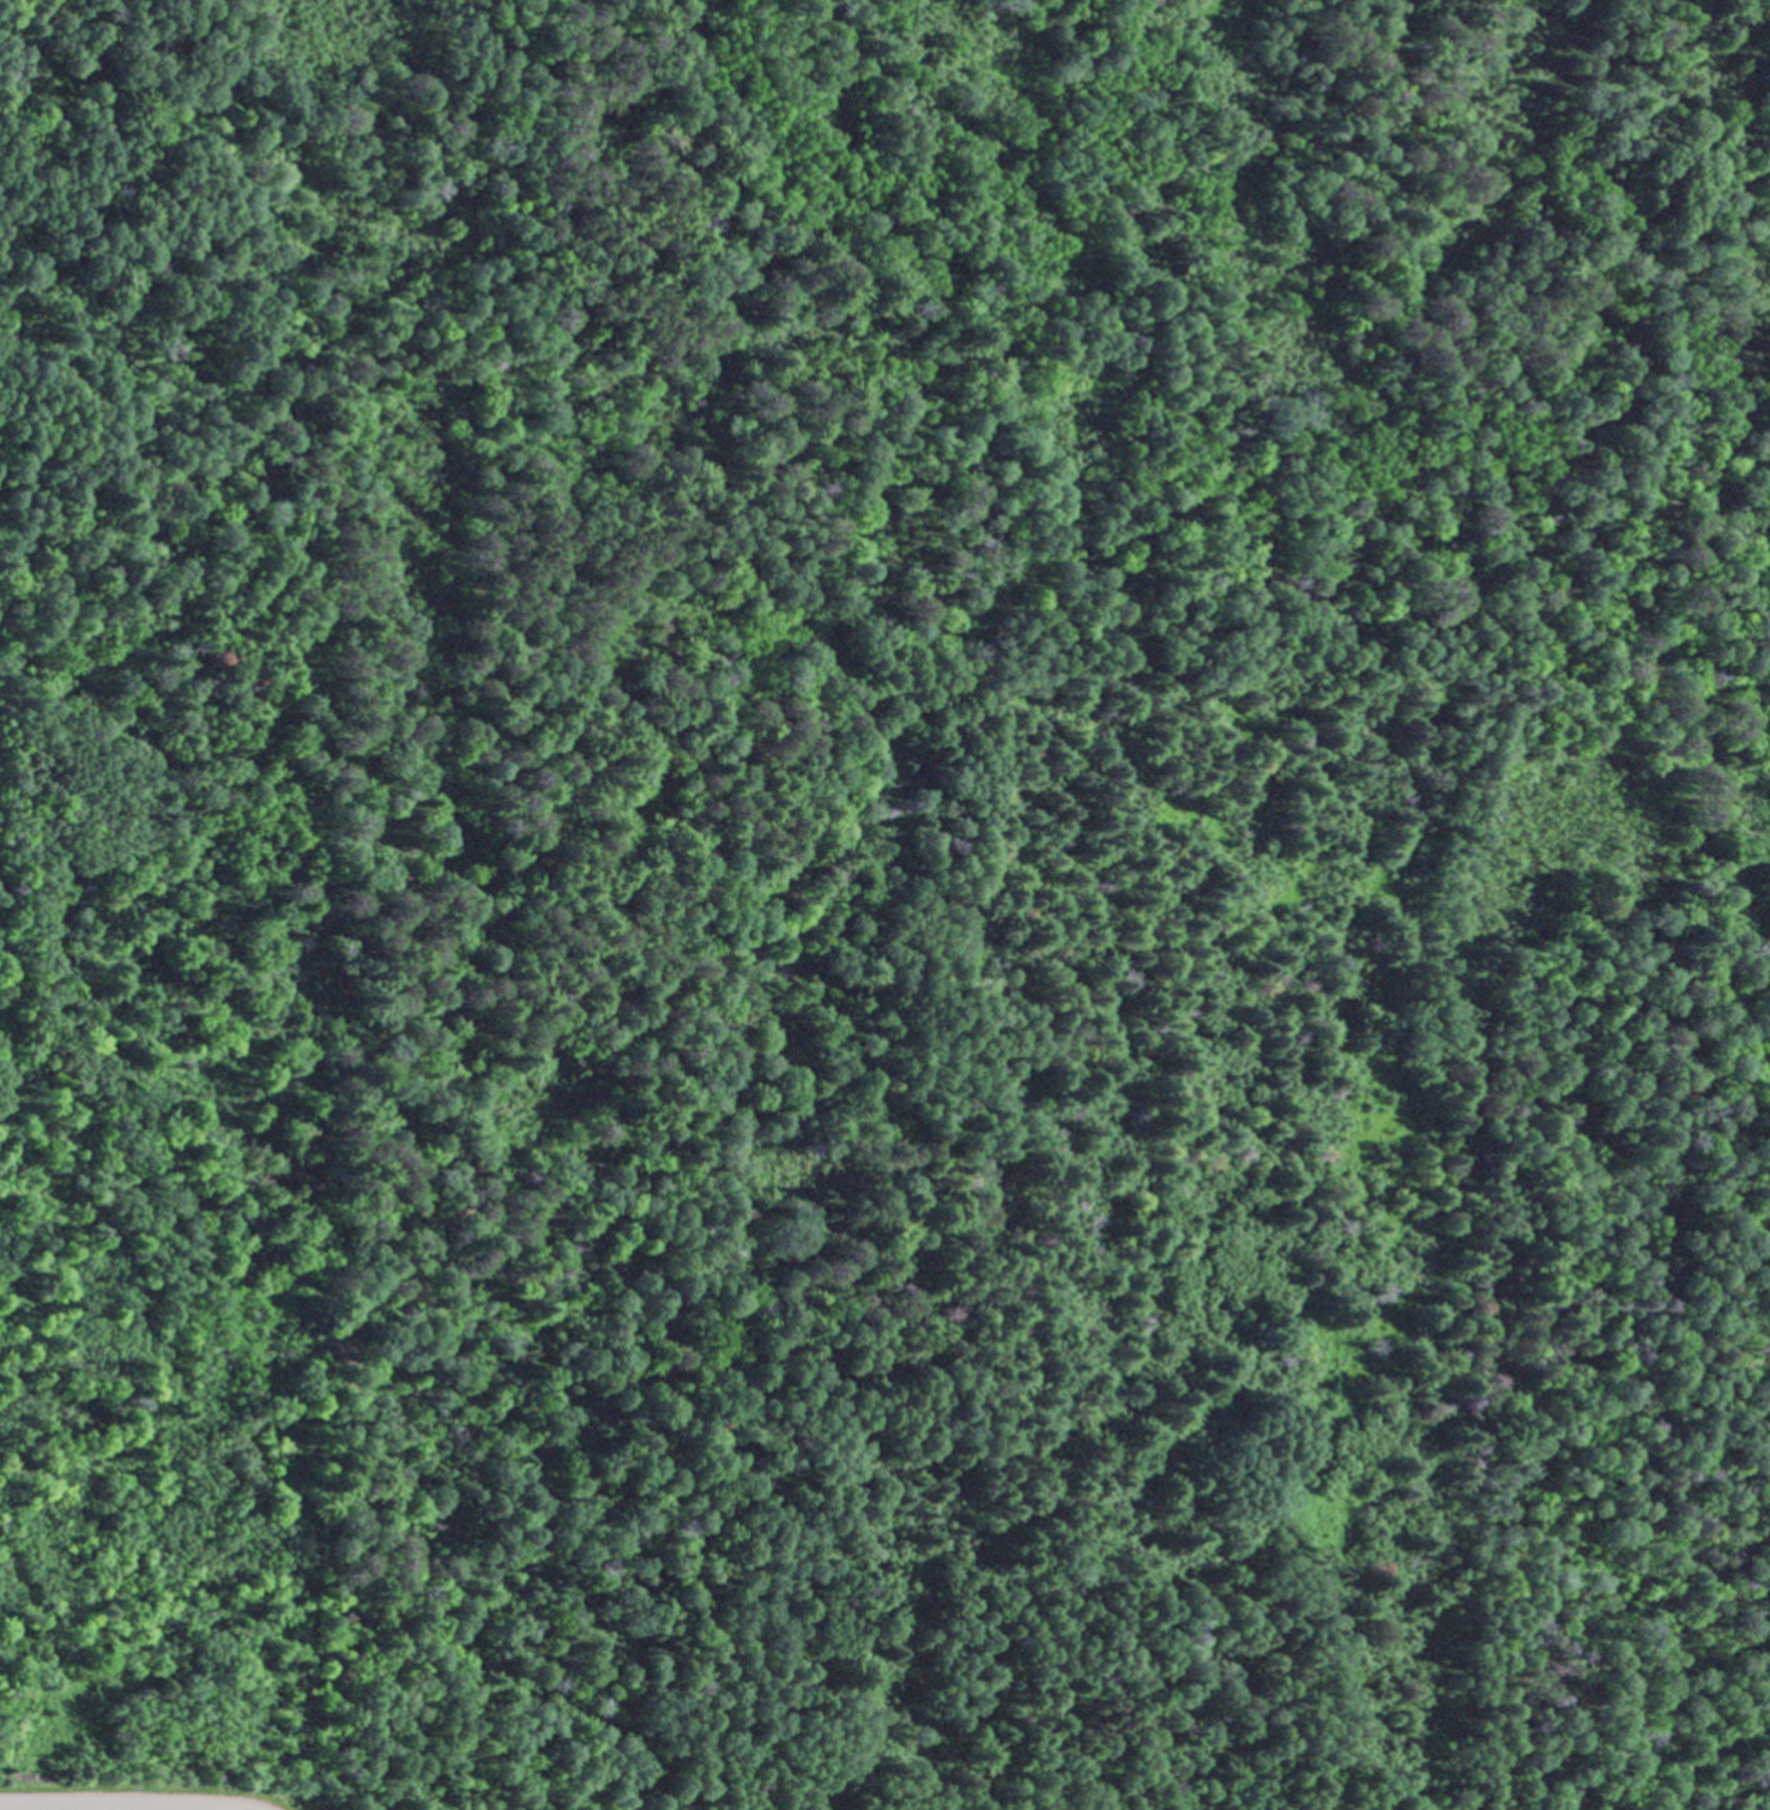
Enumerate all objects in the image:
road: (126, 1803)

